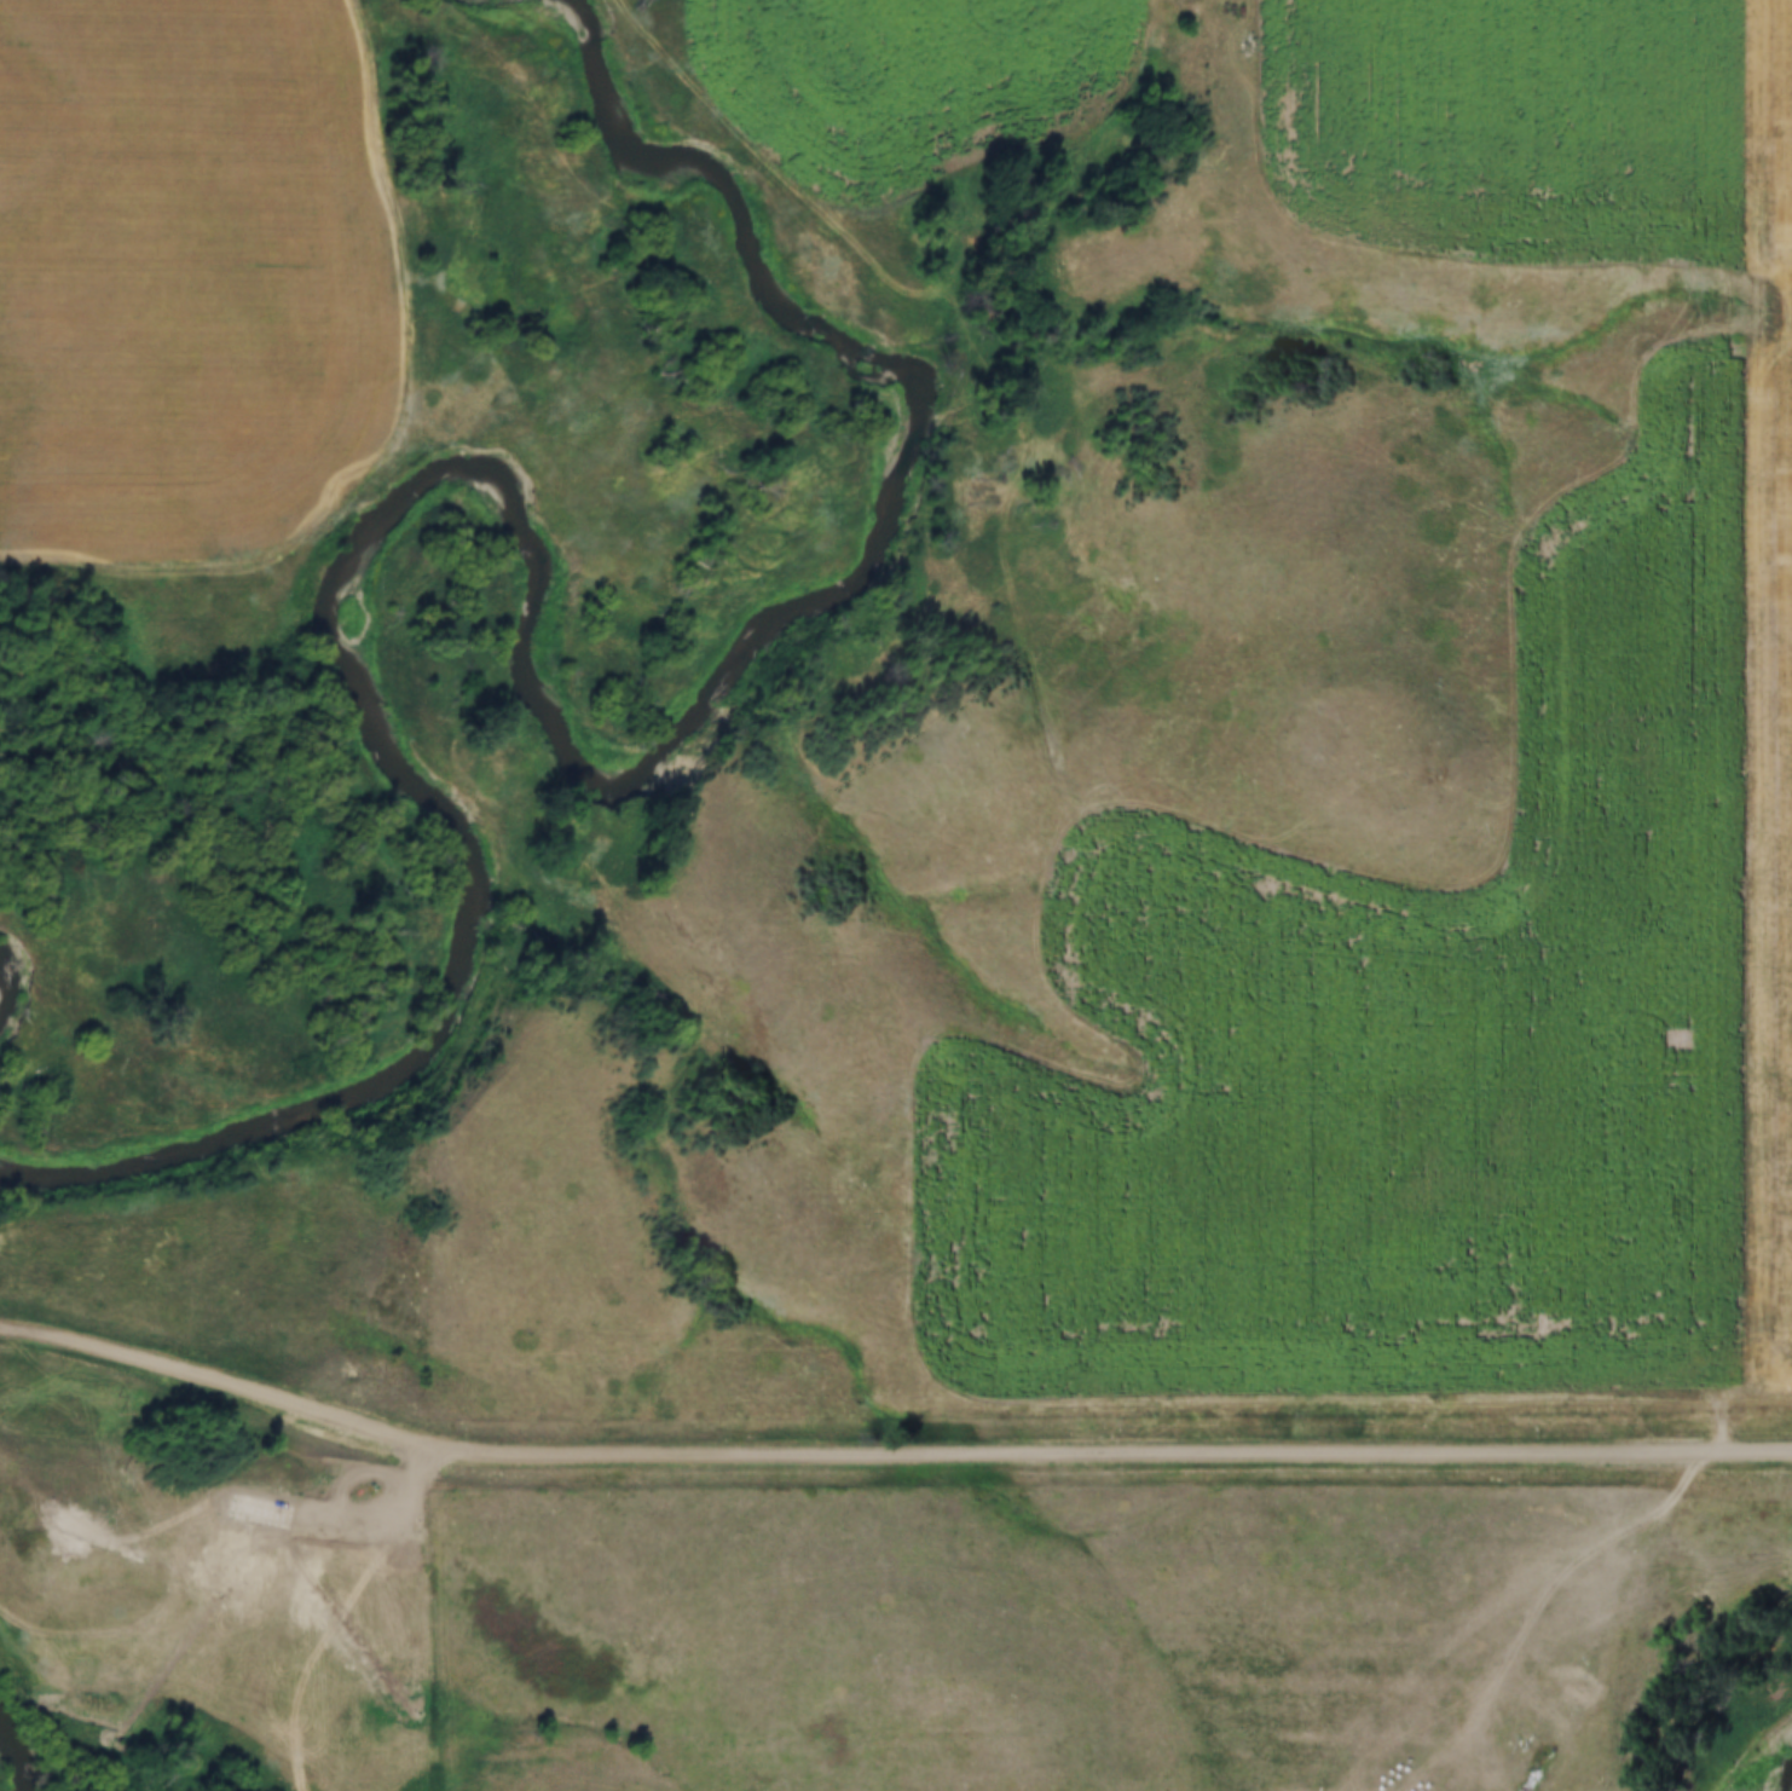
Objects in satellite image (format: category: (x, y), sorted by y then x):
road: (886, 1458)

